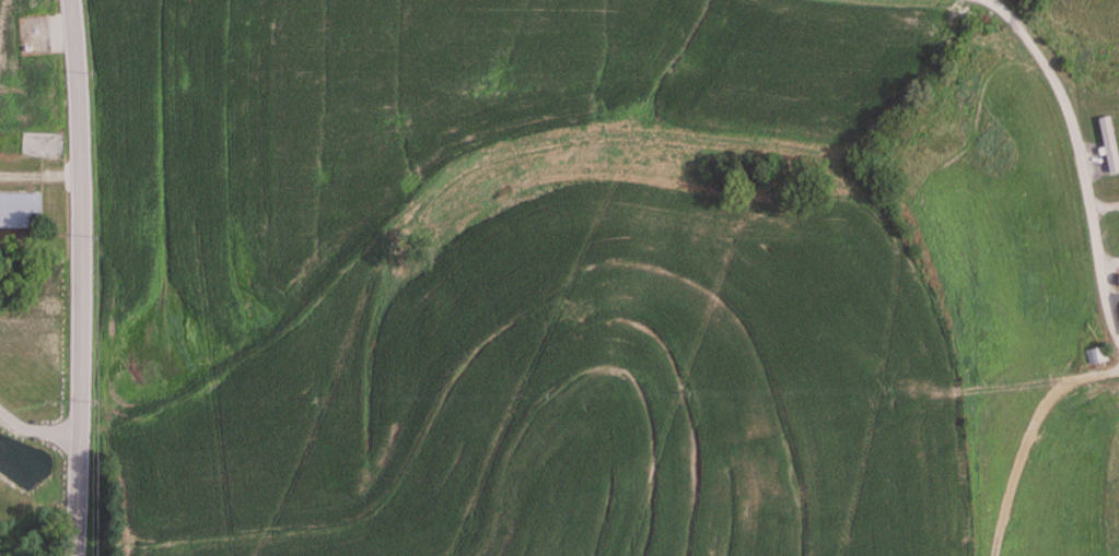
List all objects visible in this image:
building: (1106, 144)
road: (1079, 159)
road: (37, 179)
building: (19, 211)
road: (78, 277)
building: (1094, 355)
road: (35, 430)

